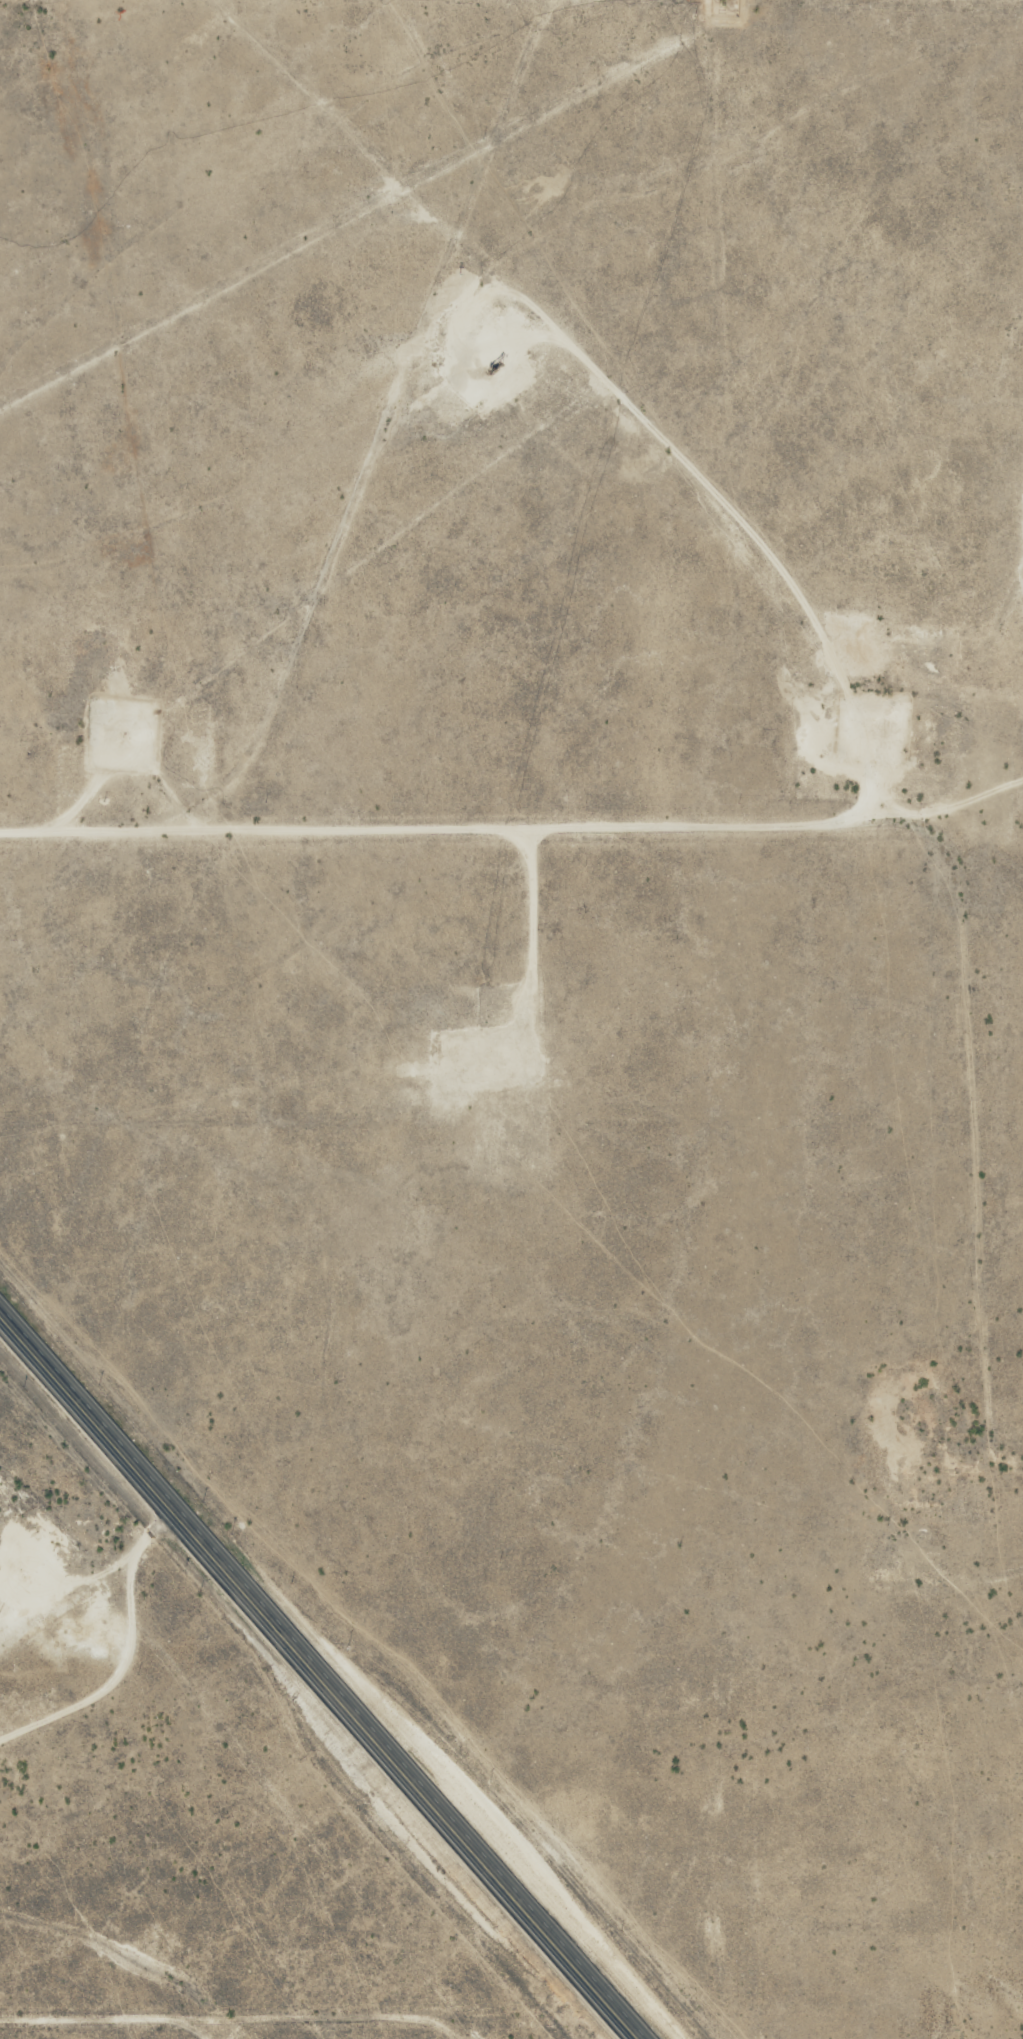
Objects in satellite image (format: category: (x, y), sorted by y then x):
road: (353, 506)
road: (126, 1638)
road: (322, 1669)

